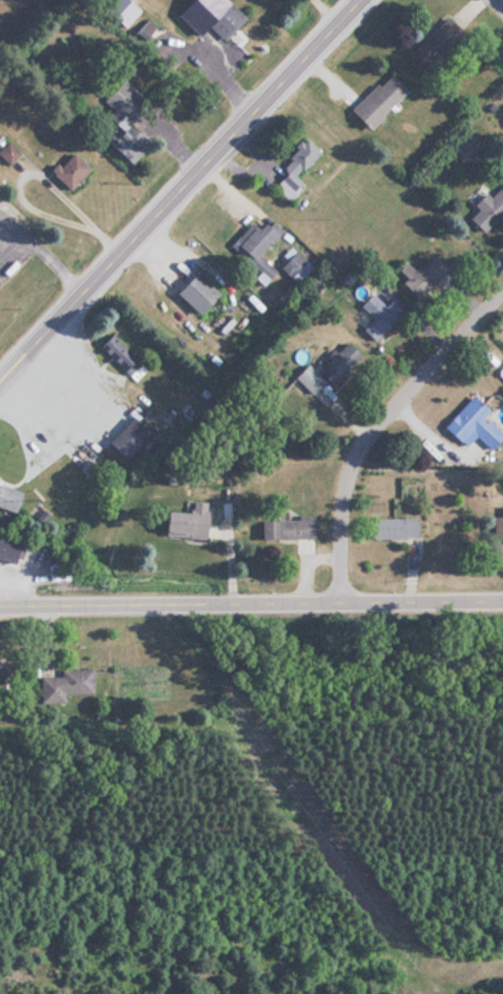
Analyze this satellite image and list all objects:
road: (497, 5)
building: (117, 12)
building: (208, 16)
building: (433, 43)
building: (375, 100)
building: (123, 101)
building: (121, 141)
building: (292, 169)
road: (35, 170)
building: (67, 171)
road: (180, 191)
building: (486, 209)
road: (11, 225)
road: (11, 244)
building: (253, 246)
road: (53, 264)
building: (422, 276)
building: (193, 292)
building: (377, 316)
building: (116, 352)
building: (325, 368)
road: (397, 406)
building: (64, 411)
building: (471, 425)
building: (125, 438)
building: (7, 497)
building: (180, 523)
building: (285, 528)
building: (390, 528)
building: (3, 548)
road: (251, 607)
building: (7, 674)
building: (63, 684)

